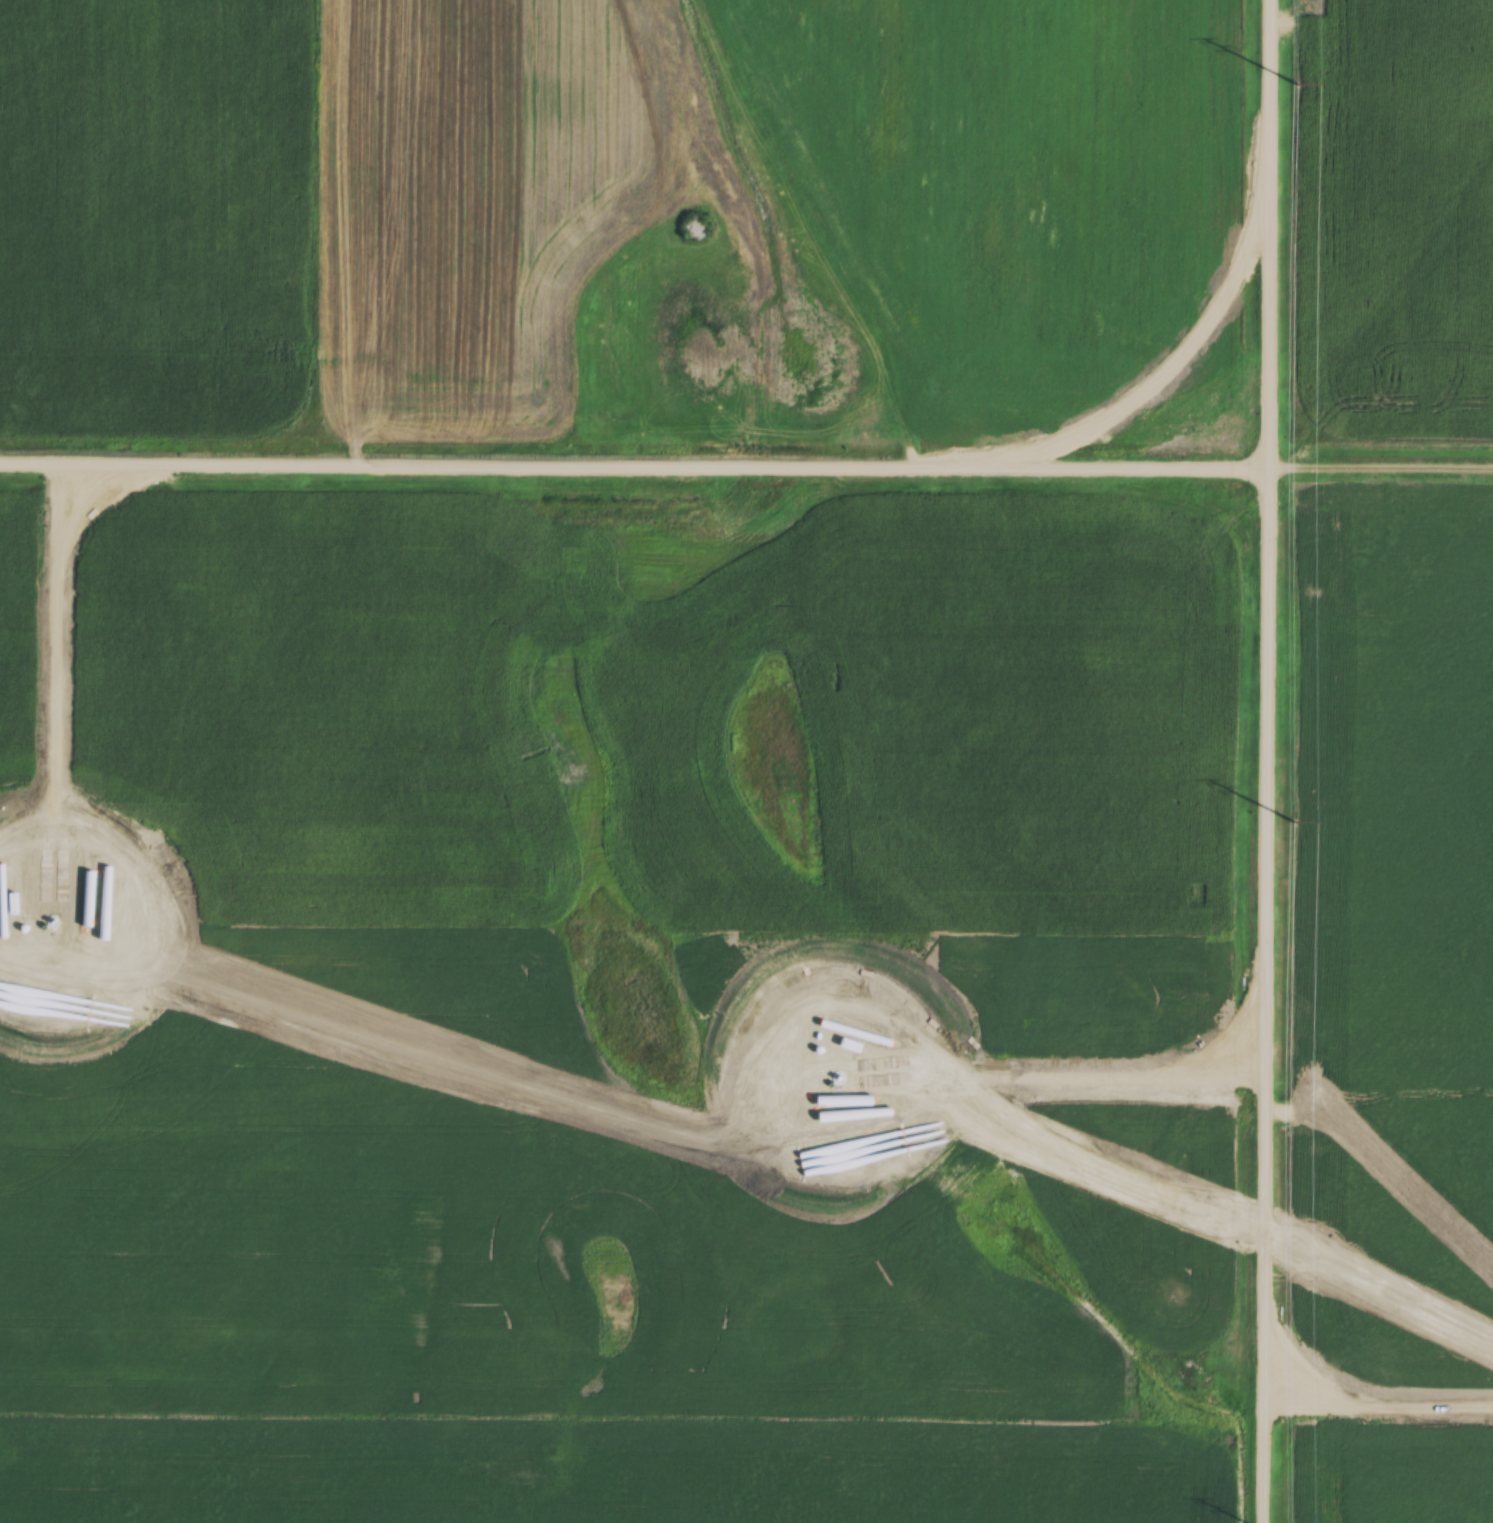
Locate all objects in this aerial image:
power tower: (1299, 87)
river: (745, 320)
road: (1381, 460)
road: (635, 463)
road: (1266, 761)
power tower: (1298, 824)
wind turbine: (47, 921)
wind turbine: (841, 1080)

